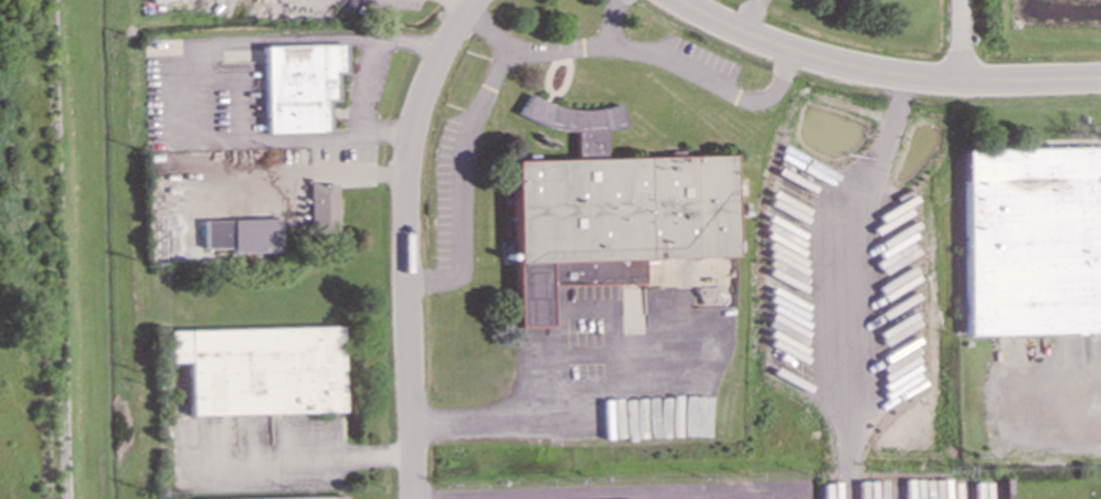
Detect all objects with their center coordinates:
road: (460, 4)
road: (611, 24)
road: (488, 29)
road: (961, 41)
road: (530, 47)
road: (880, 74)
road: (364, 76)
building: (299, 85)
road: (363, 173)
building: (322, 209)
building: (607, 211)
building: (240, 234)
building: (1031, 241)
road: (407, 242)
building: (258, 369)
road: (507, 417)
building: (305, 498)
road: (711, 498)

